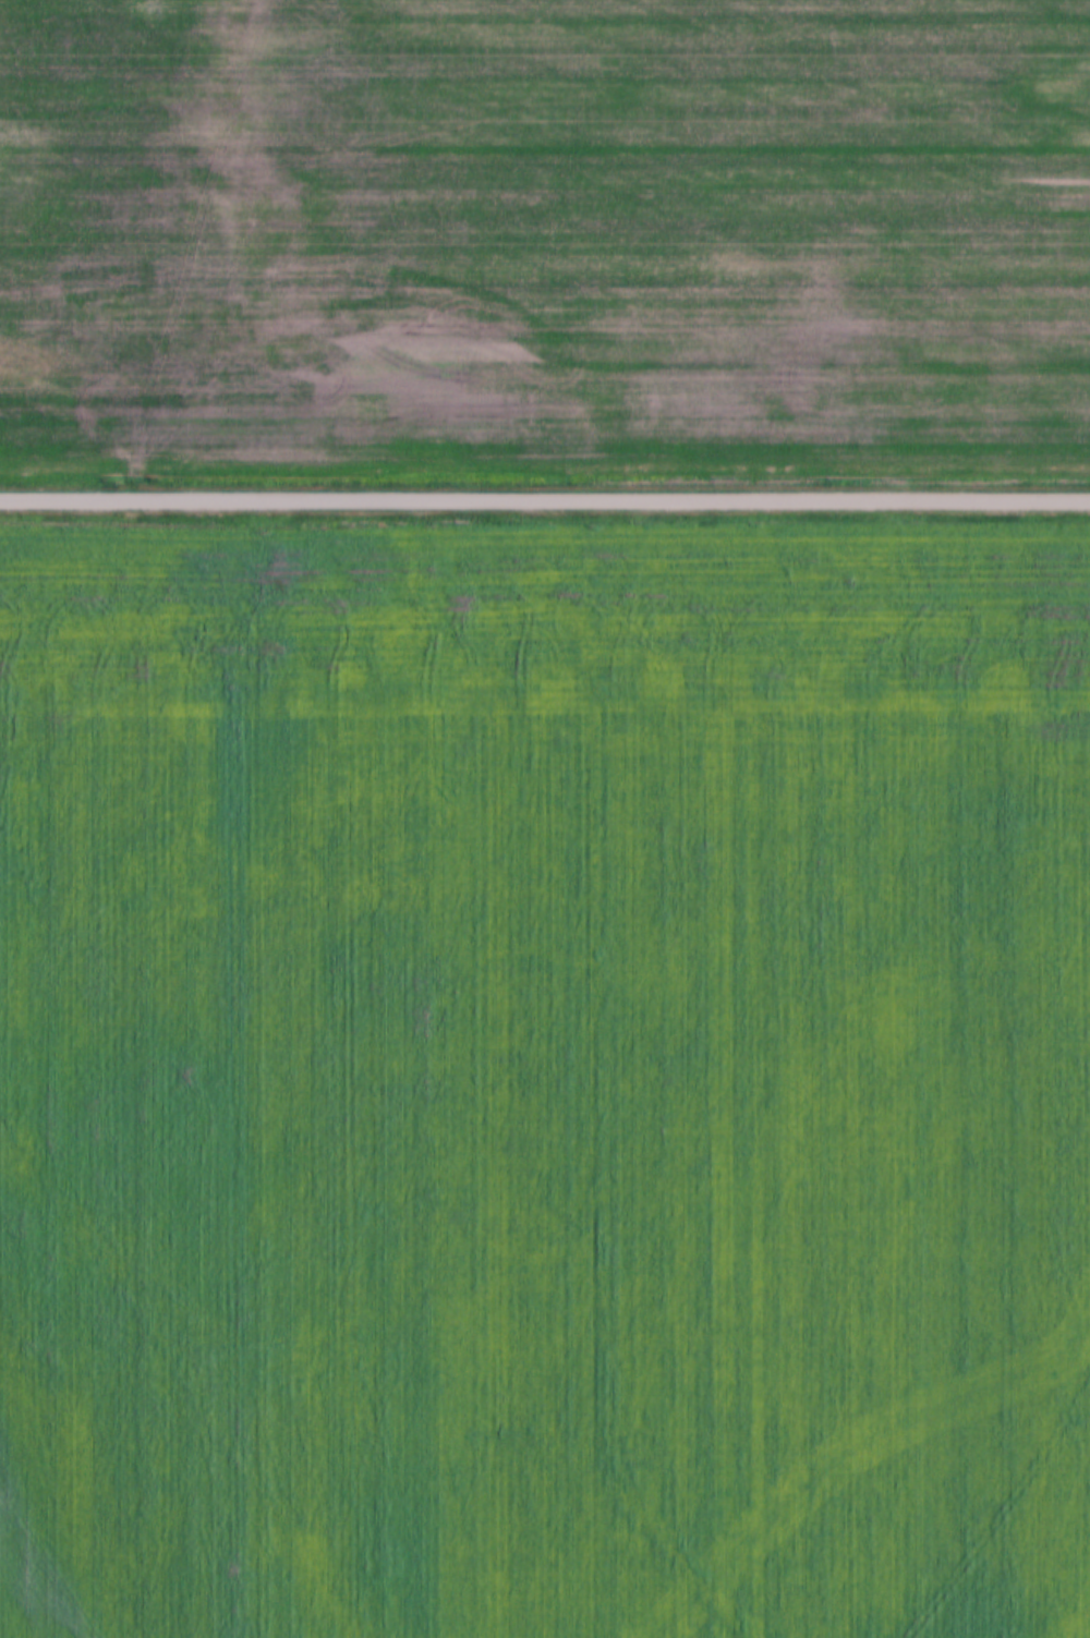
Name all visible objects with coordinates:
road: (544, 499)

